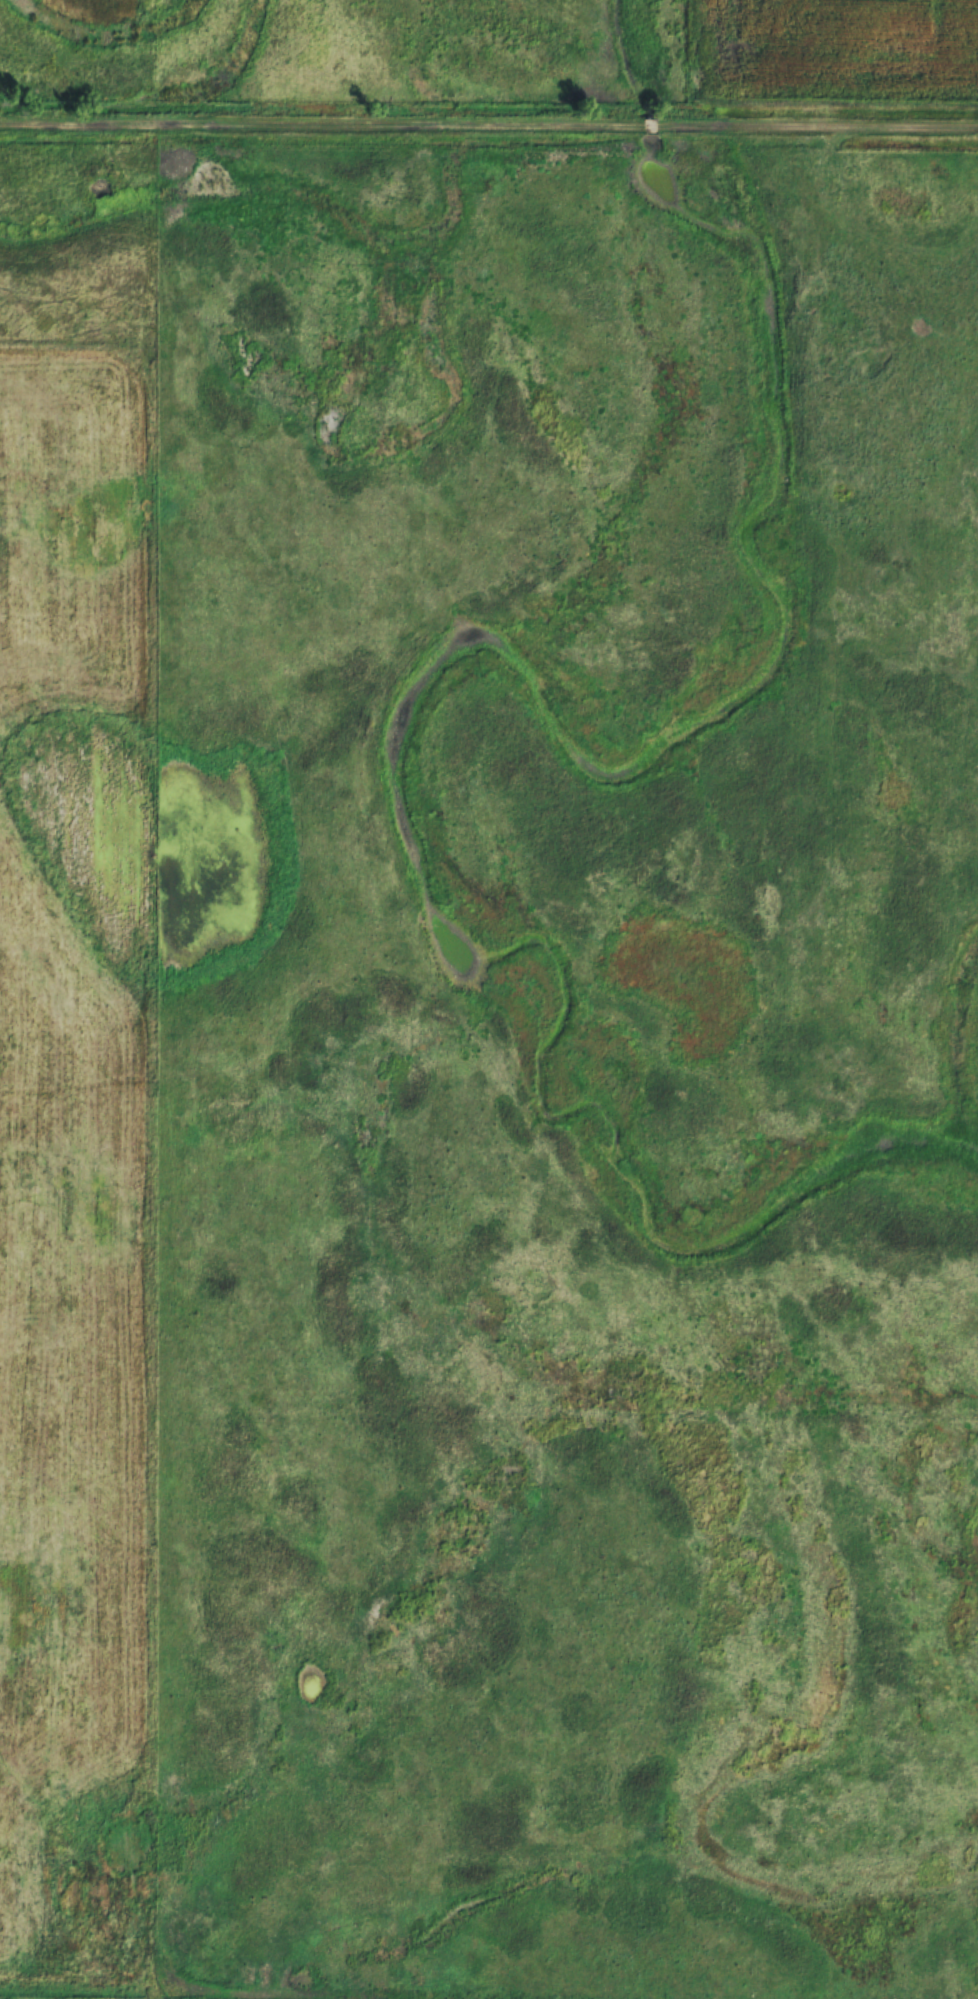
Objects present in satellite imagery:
road: (488, 130)

